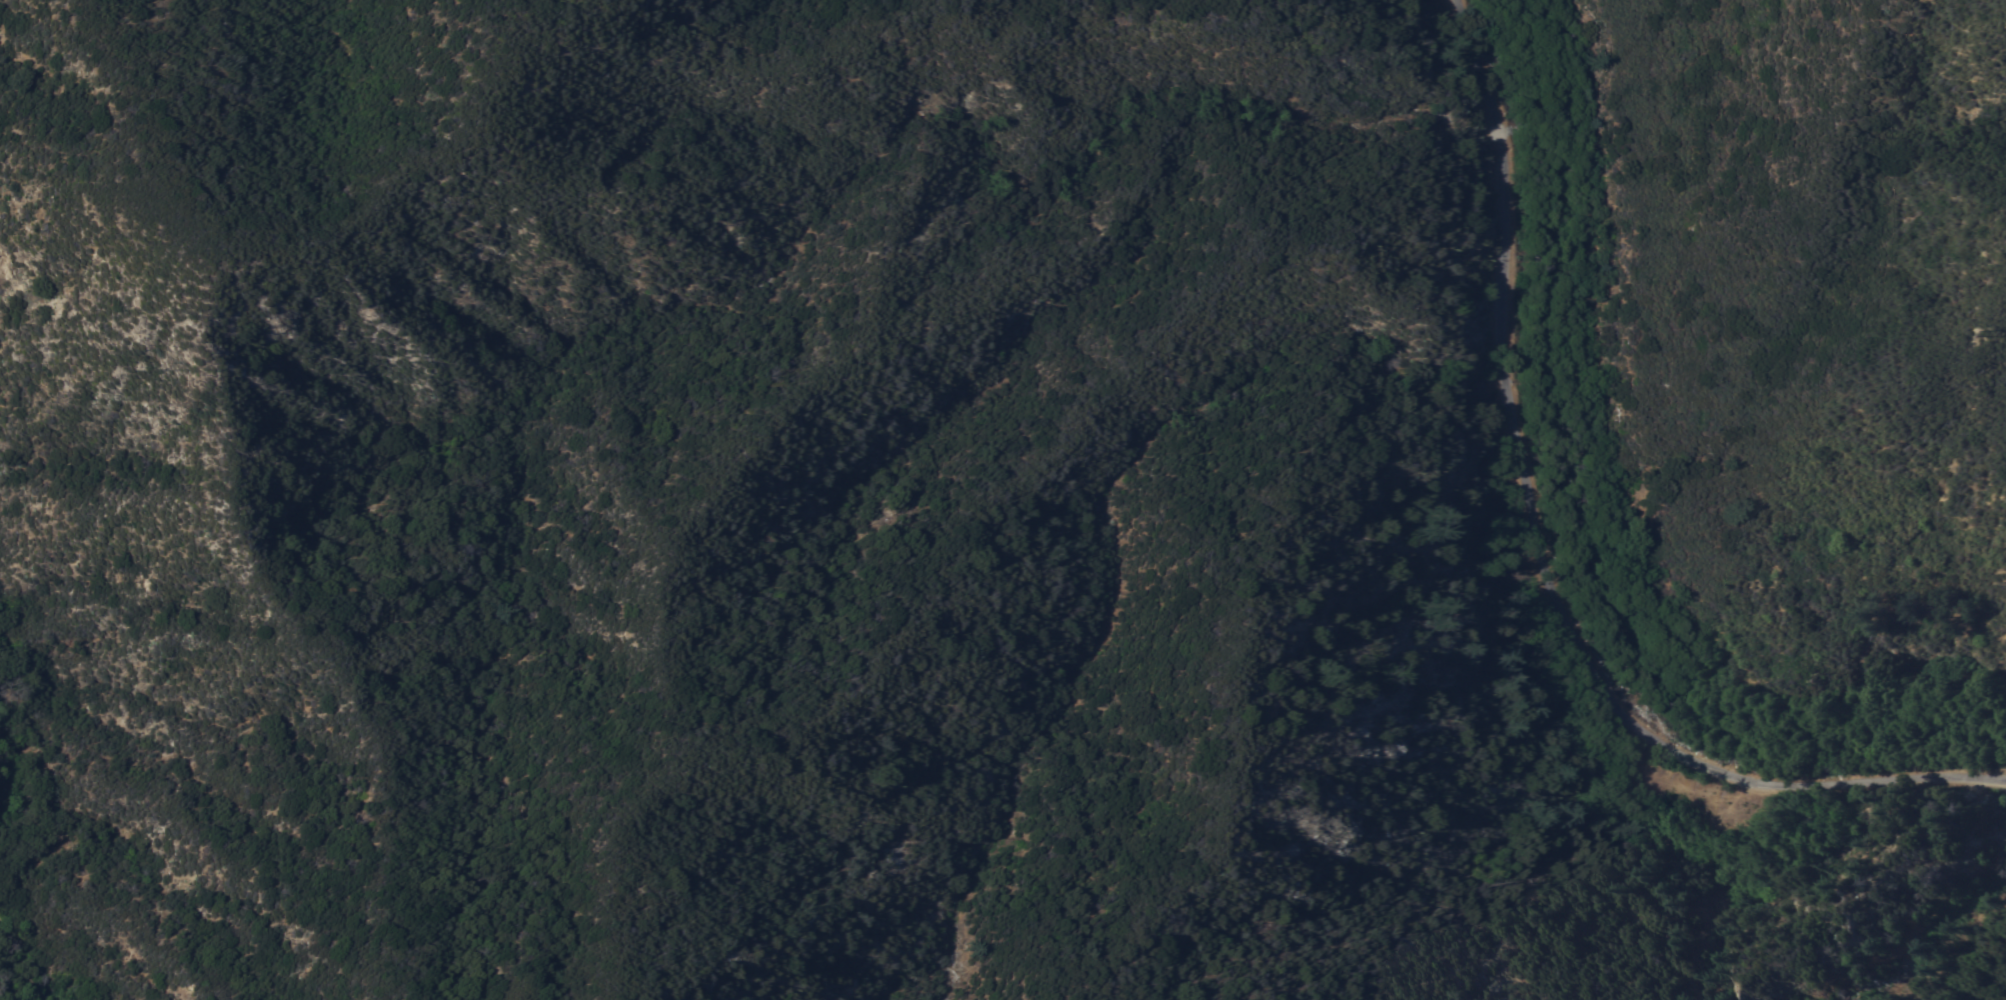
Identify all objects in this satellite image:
river: (1593, 520)
road: (1545, 561)

